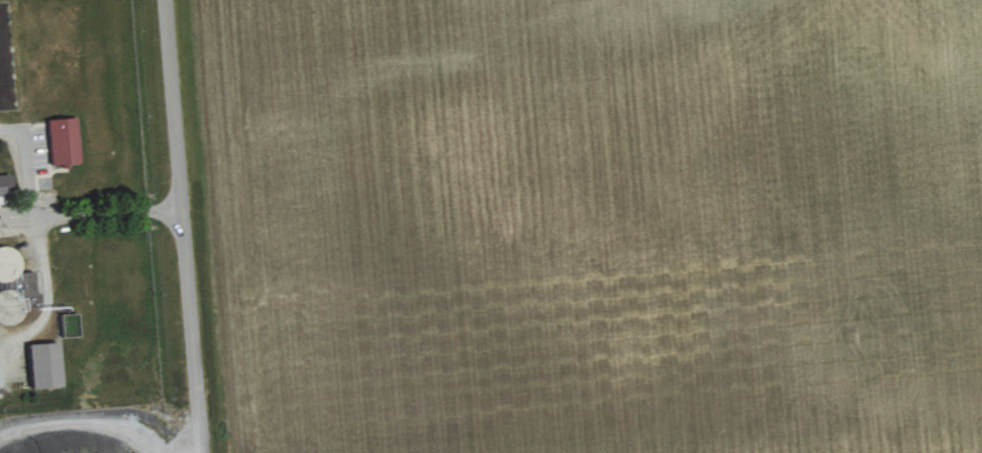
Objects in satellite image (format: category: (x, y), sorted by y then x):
building: (61, 137)
building: (4, 186)
road: (44, 216)
road: (181, 226)
building: (14, 284)
building: (43, 361)

